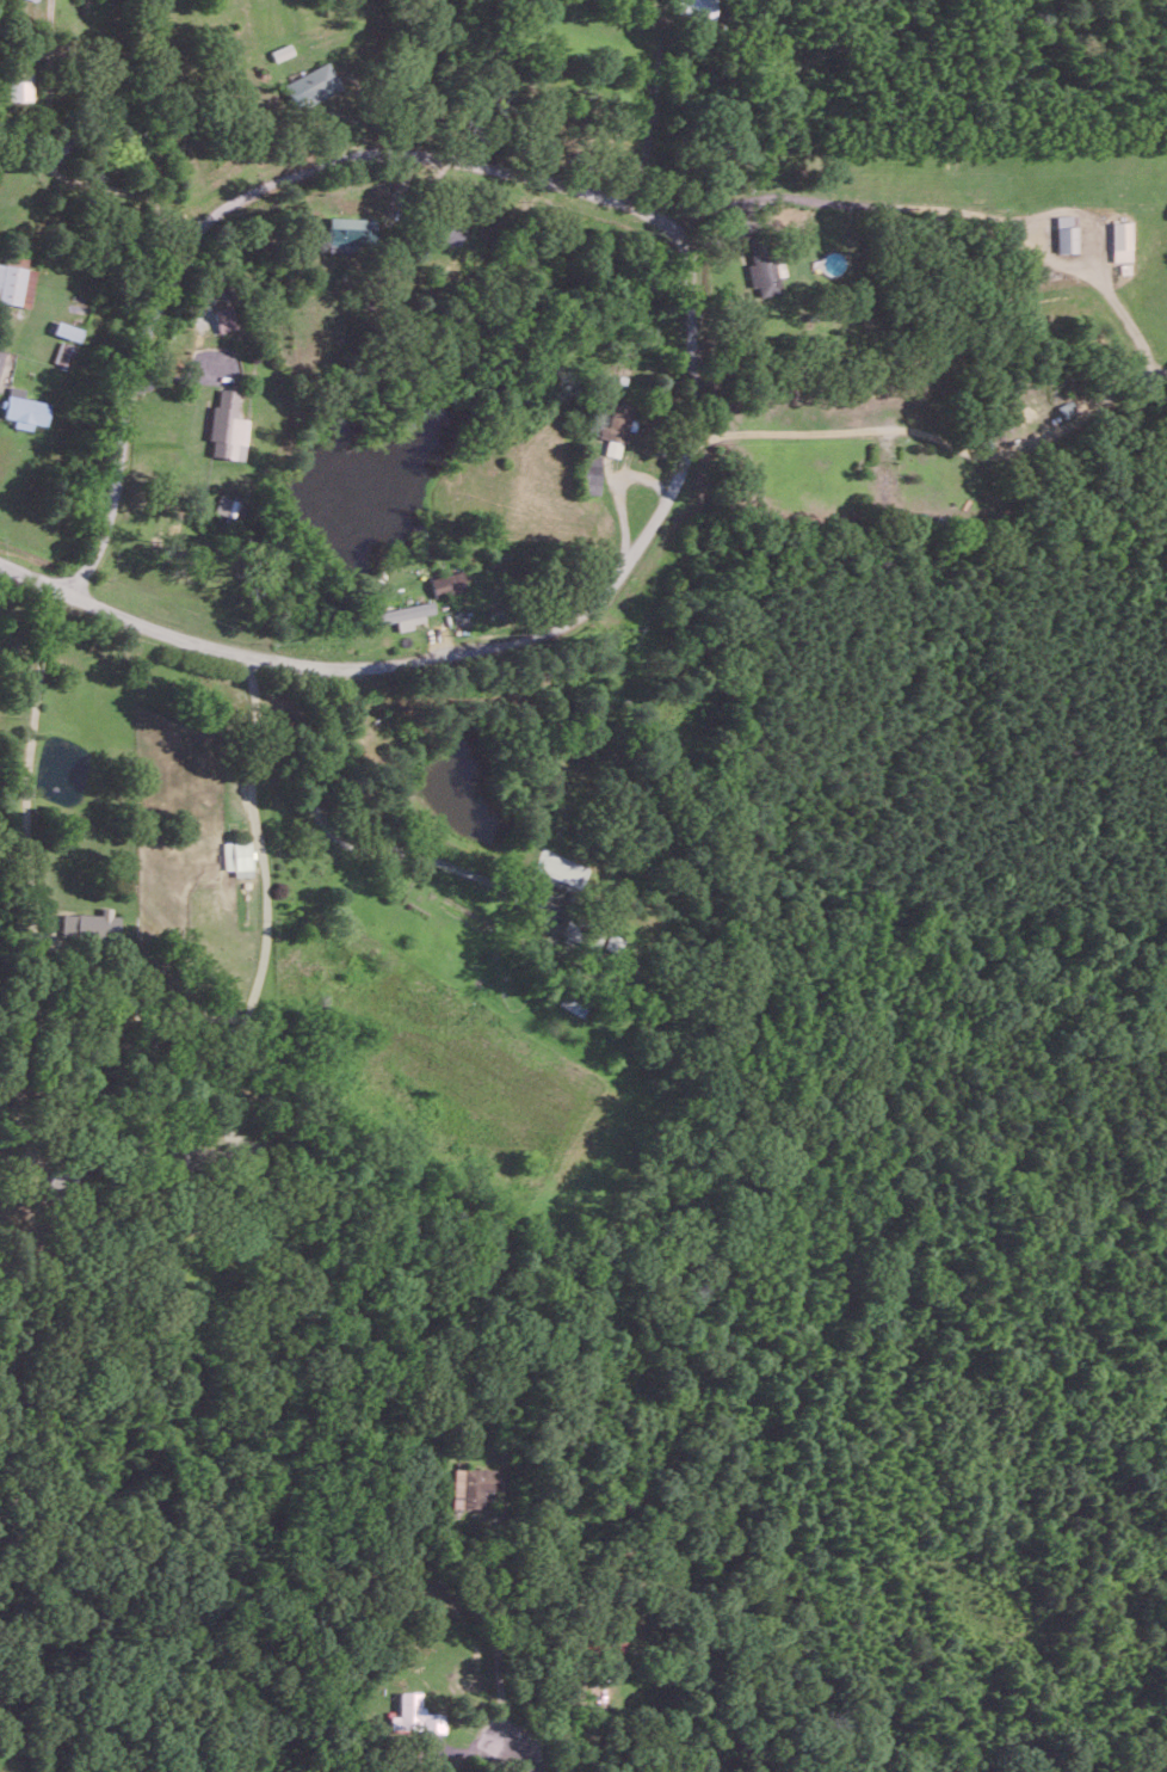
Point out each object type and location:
building: (280, 51)
building: (18, 85)
building: (310, 85)
road: (653, 104)
road: (44, 167)
road: (851, 202)
building: (449, 230)
building: (350, 232)
building: (1064, 233)
building: (1119, 240)
road: (685, 250)
building: (765, 269)
building: (17, 281)
building: (223, 318)
building: (67, 330)
building: (66, 353)
building: (24, 408)
building: (227, 426)
building: (615, 427)
road: (829, 430)
building: (589, 473)
building: (229, 510)
road: (38, 578)
building: (446, 583)
building: (405, 614)
road: (345, 842)
building: (237, 856)
road: (27, 868)
road: (267, 892)
building: (88, 924)
building: (574, 1001)
building: (474, 1484)
building: (415, 1715)
road: (533, 1764)

